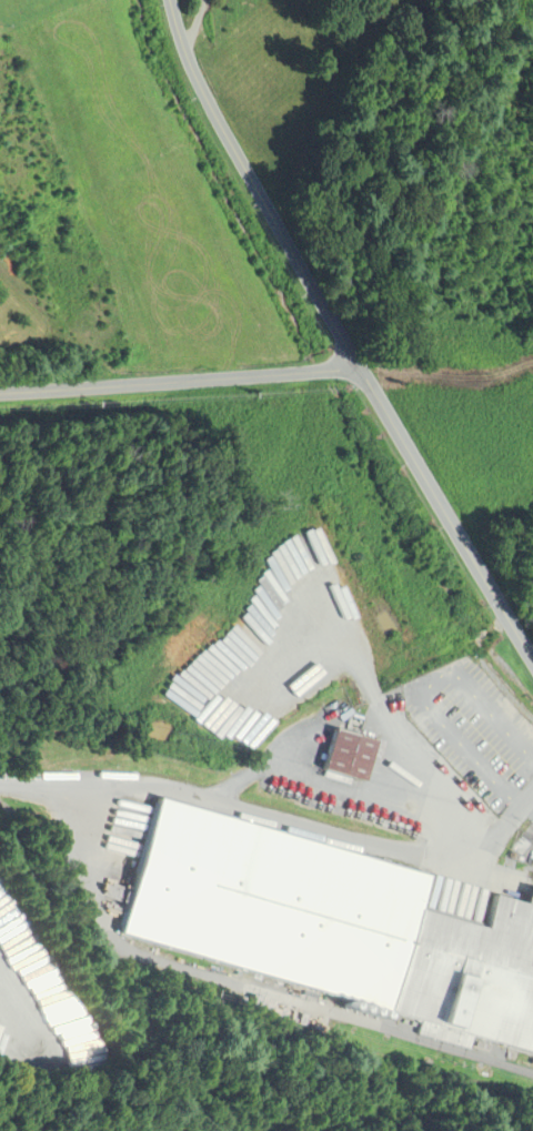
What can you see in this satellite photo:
road: (194, 27)
road: (257, 188)
road: (313, 381)
road: (180, 383)
road: (445, 515)
building: (253, 685)
road: (384, 711)
building: (341, 755)
road: (273, 764)
building: (378, 810)
building: (334, 928)
road: (9, 1008)

